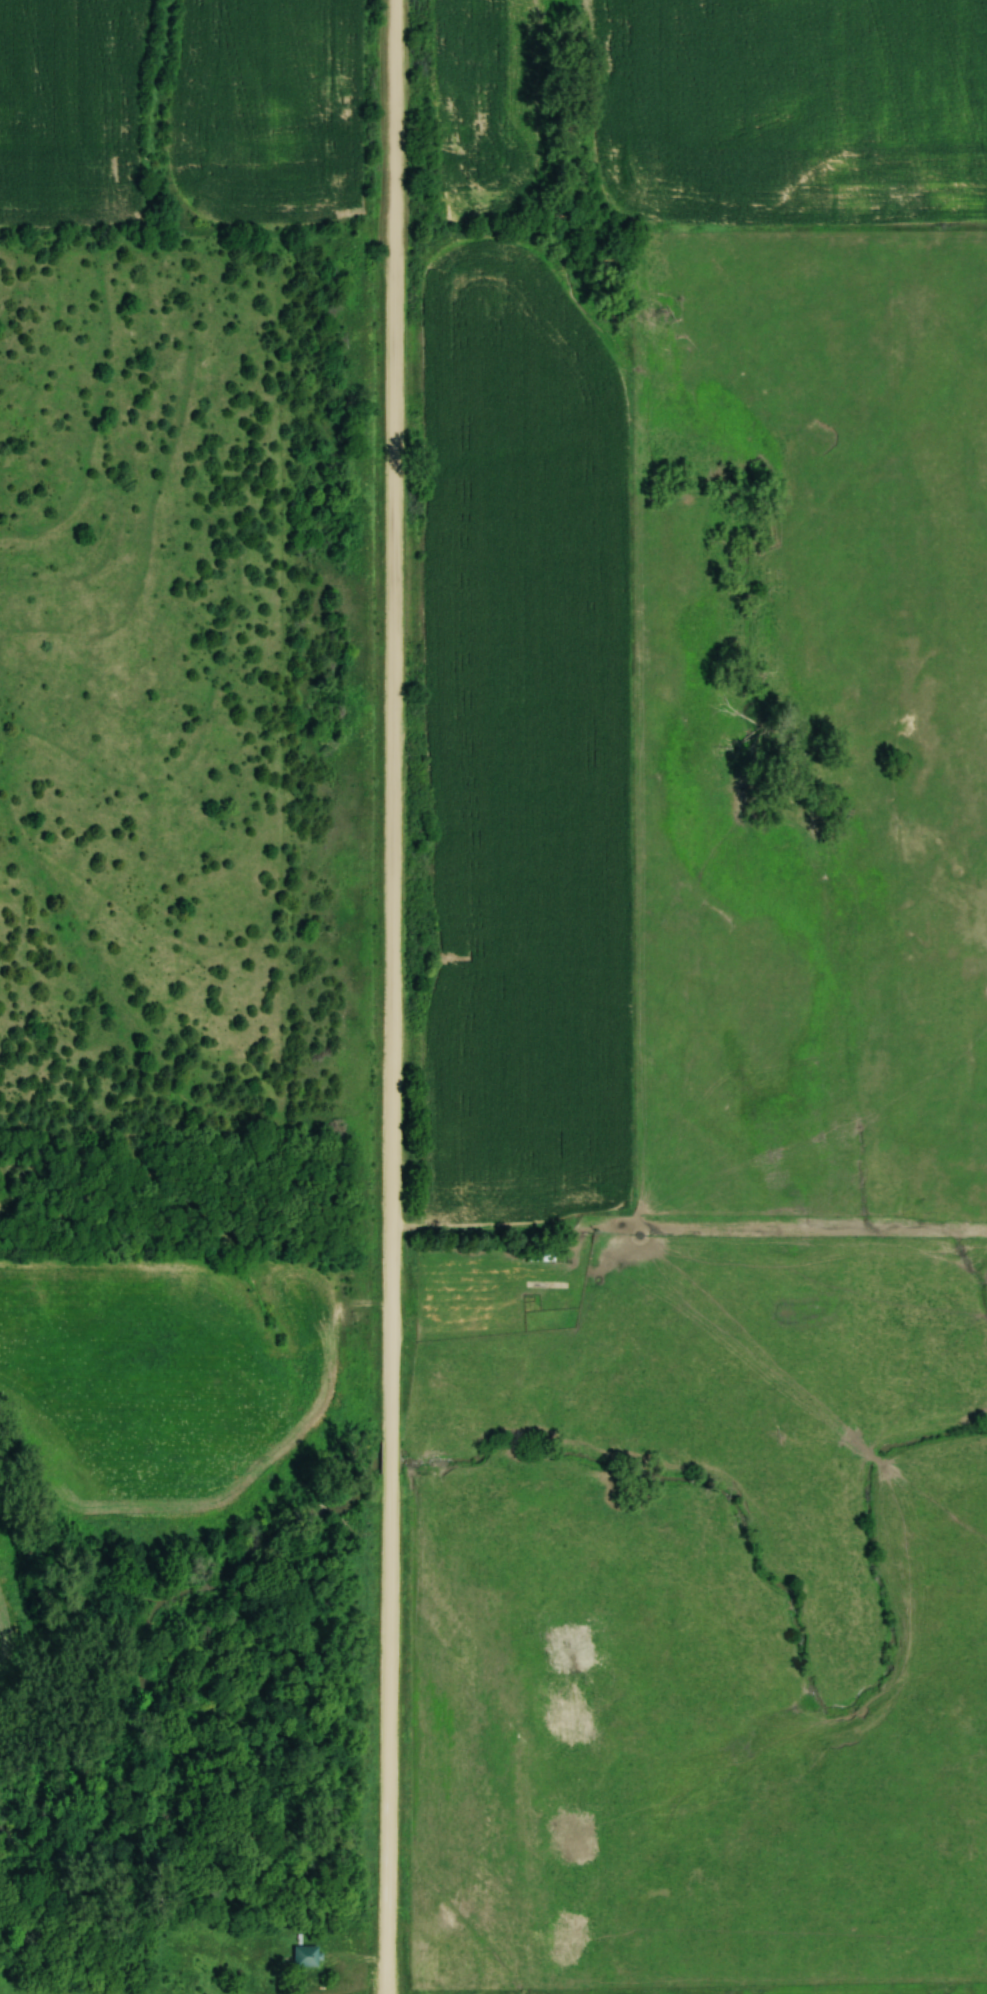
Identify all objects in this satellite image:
road: (388, 996)
road: (490, 1230)
building: (543, 1254)
building: (307, 1955)

